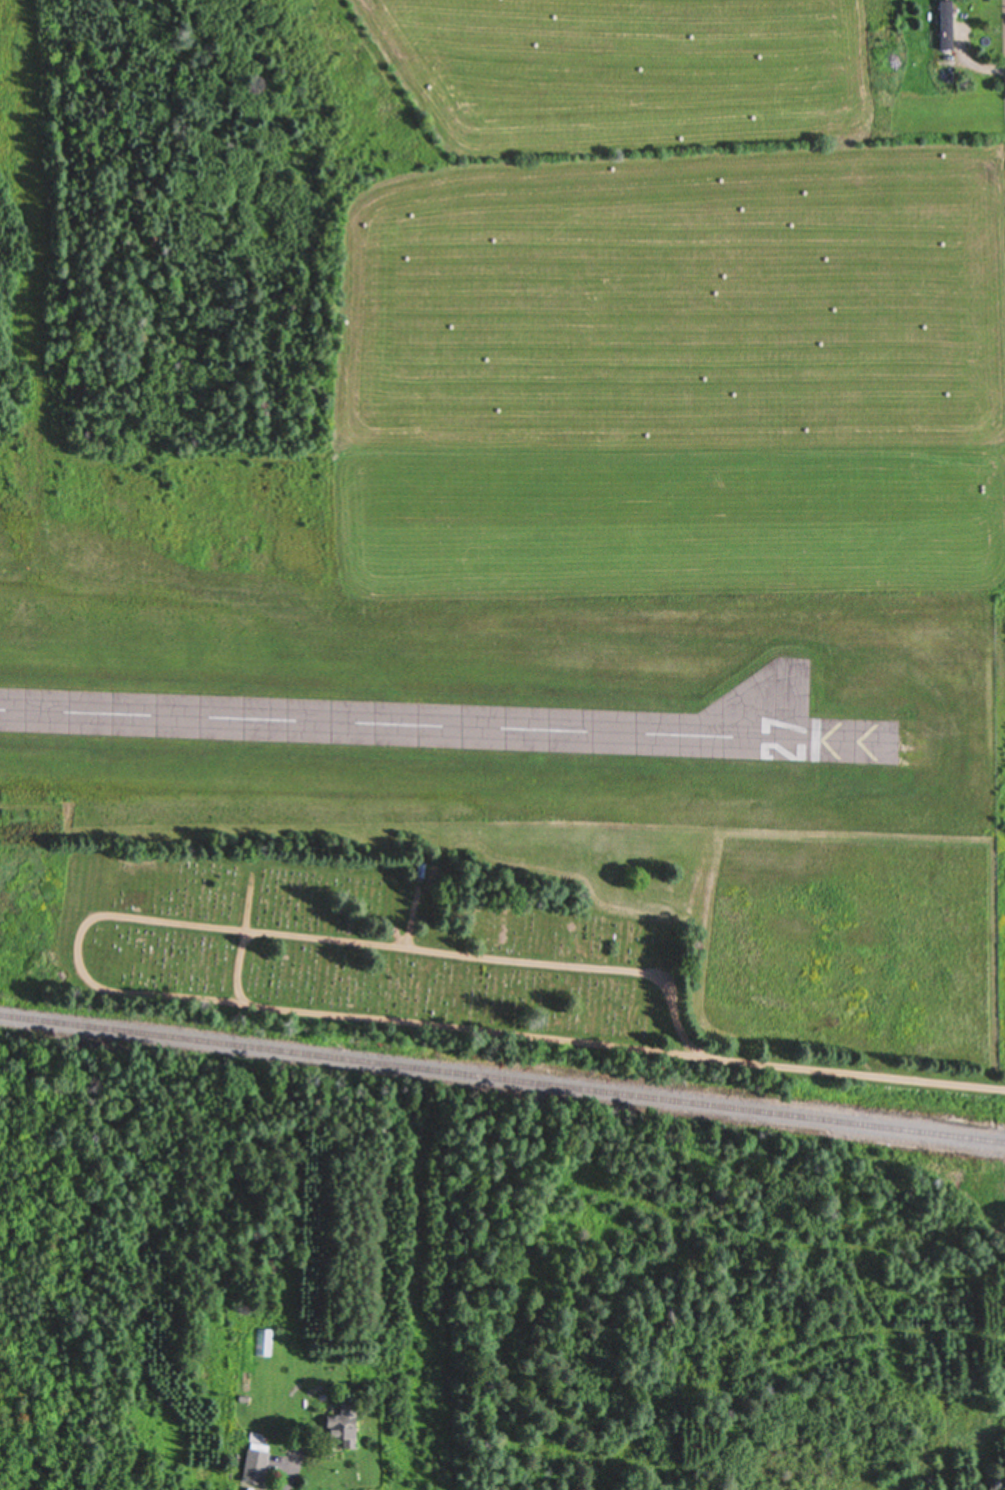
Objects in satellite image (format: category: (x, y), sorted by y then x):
building: (946, 27)
park: (28, 117)
airport: (479, 643)
airport runway: (442, 727)
road: (86, 932)
park: (542, 948)
road: (853, 1073)
railway: (502, 1079)
building: (264, 1344)
building: (341, 1429)
building: (255, 1465)

